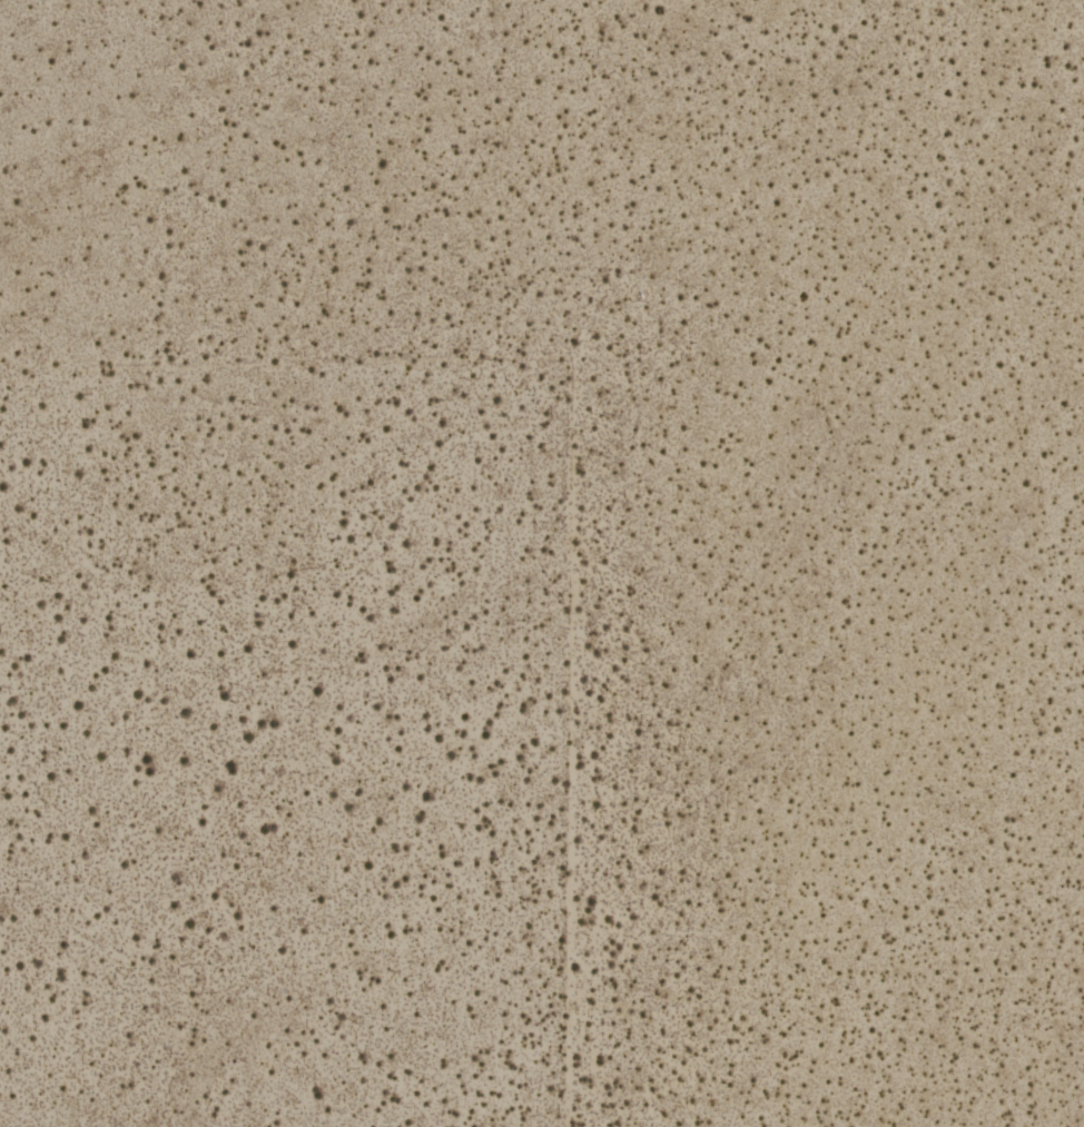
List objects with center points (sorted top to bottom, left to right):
airport: (542, 563)

